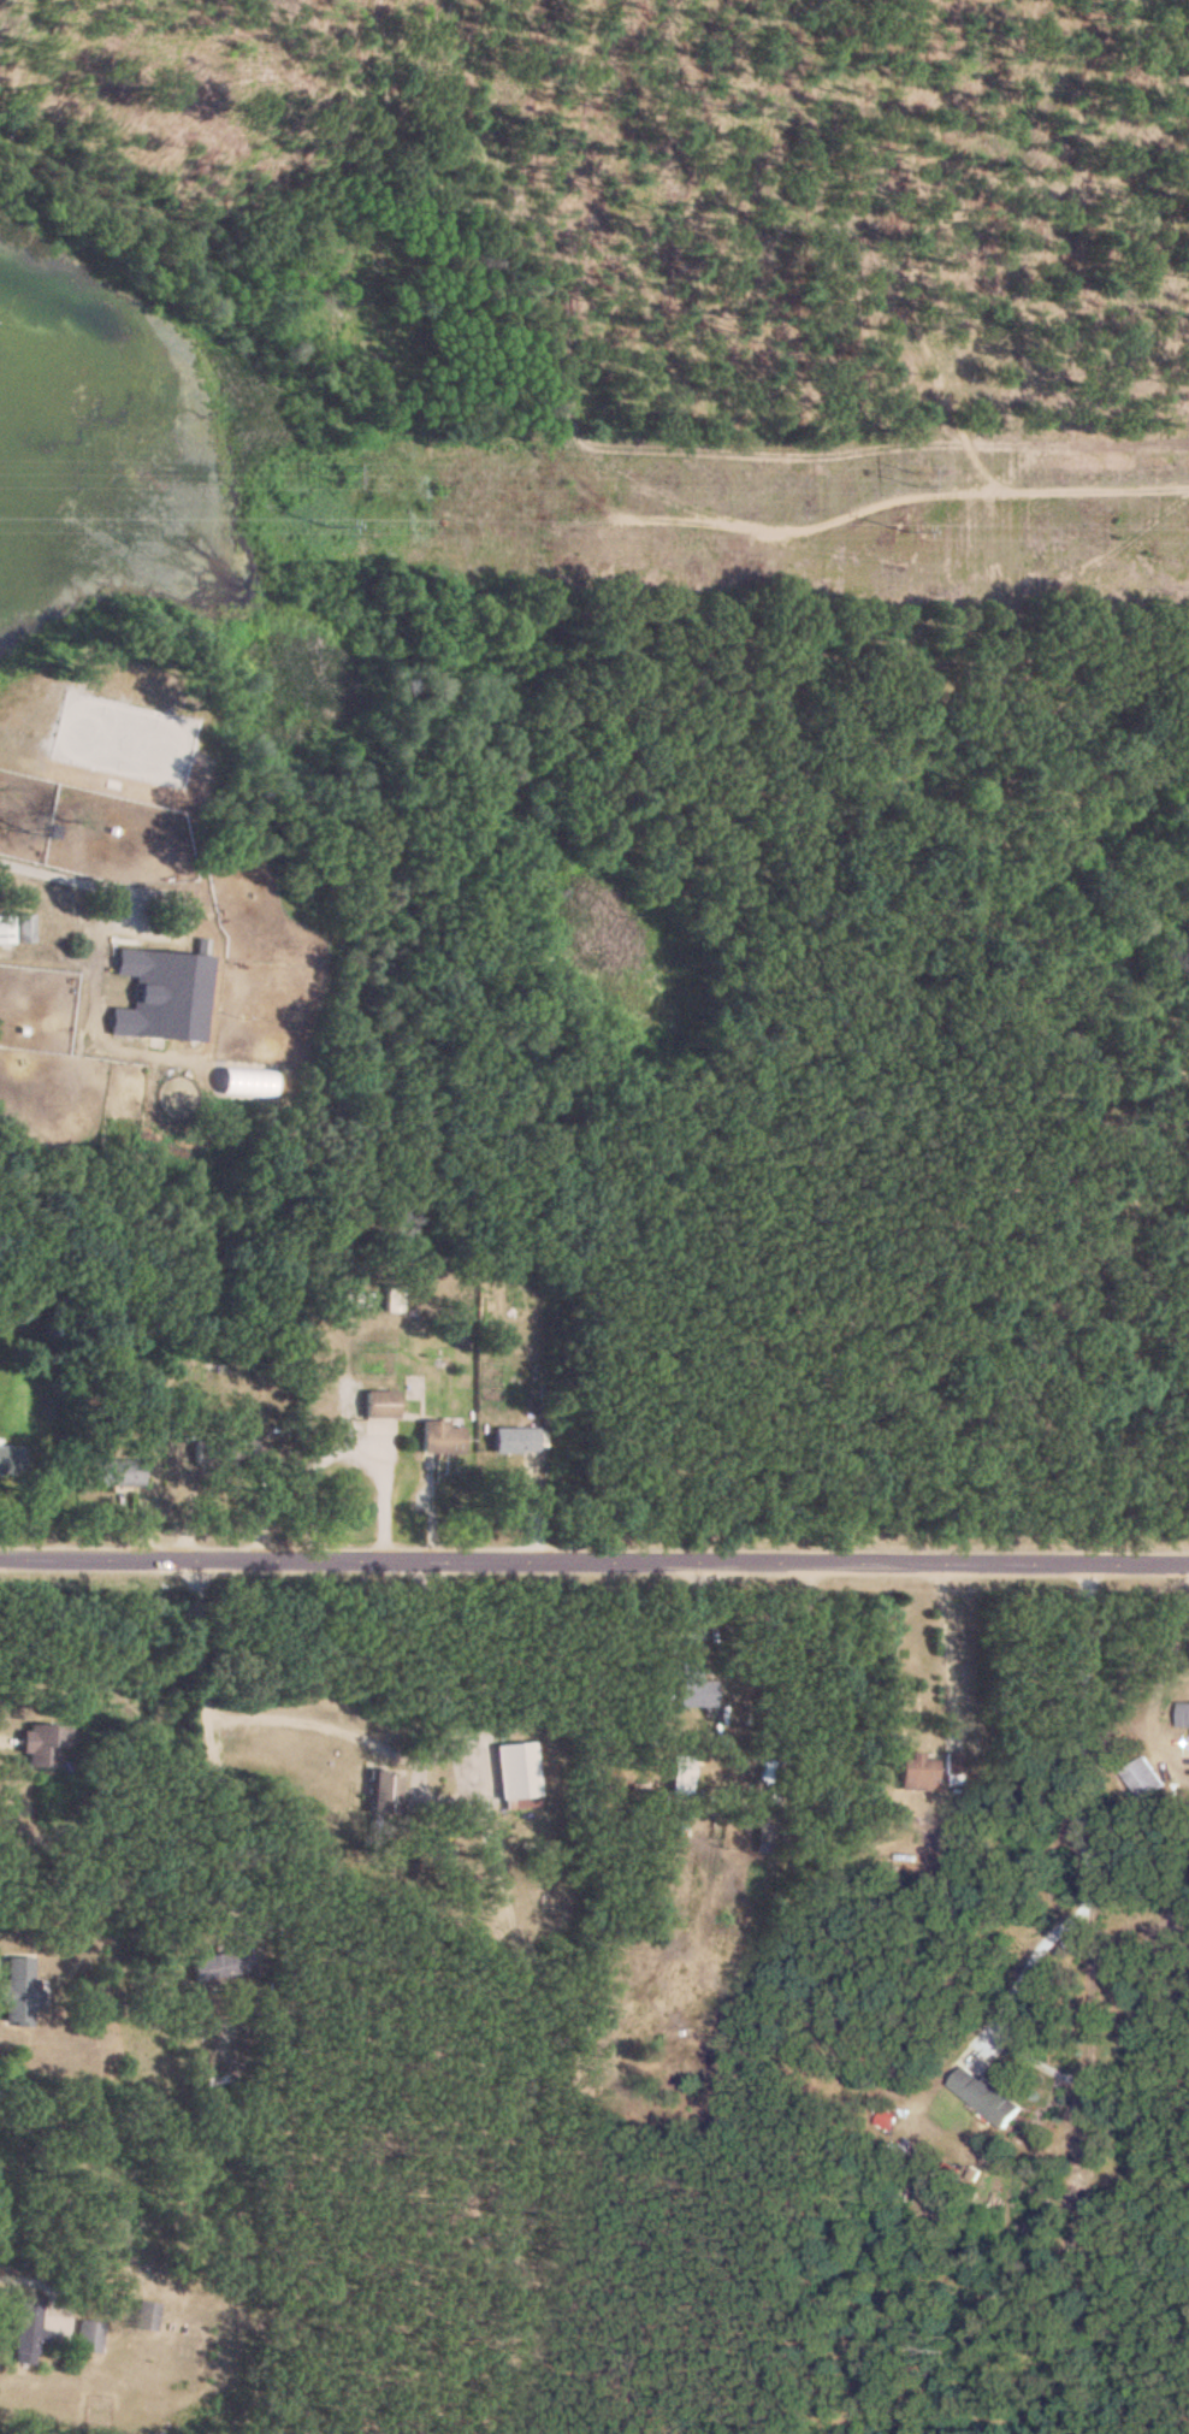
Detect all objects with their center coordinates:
power tower: (336, 474)
power tower: (913, 478)
power tower: (336, 526)
power tower: (912, 528)
road: (66, 879)
building: (25, 927)
building: (6, 928)
building: (162, 994)
building: (392, 1298)
building: (381, 1404)
building: (443, 1437)
building: (515, 1440)
building: (230, 1451)
building: (11, 1459)
building: (118, 1472)
road: (593, 1562)
road: (1159, 1678)
building: (694, 1686)
building: (1184, 1714)
road: (206, 1733)
building: (43, 1743)
road: (412, 1753)
road: (468, 1762)
building: (954, 1768)
building: (919, 1772)
building: (517, 1773)
building: (1146, 1778)
building: (385, 1794)
road: (1083, 1814)
building: (765, 1836)
building: (221, 1965)
building: (20, 1991)
building: (992, 2095)
road: (28, 2280)
building: (147, 2316)
building: (29, 2329)
building: (90, 2336)

